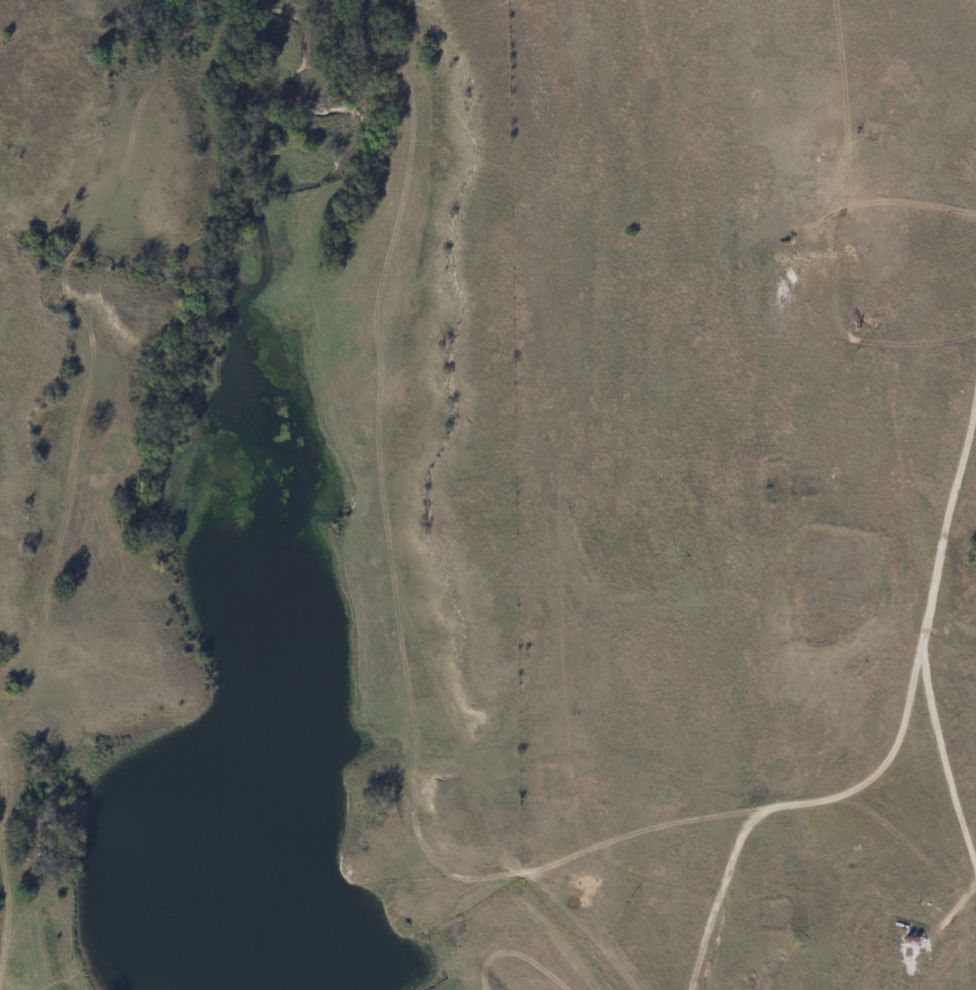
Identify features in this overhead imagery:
road: (969, 732)
road: (858, 735)

